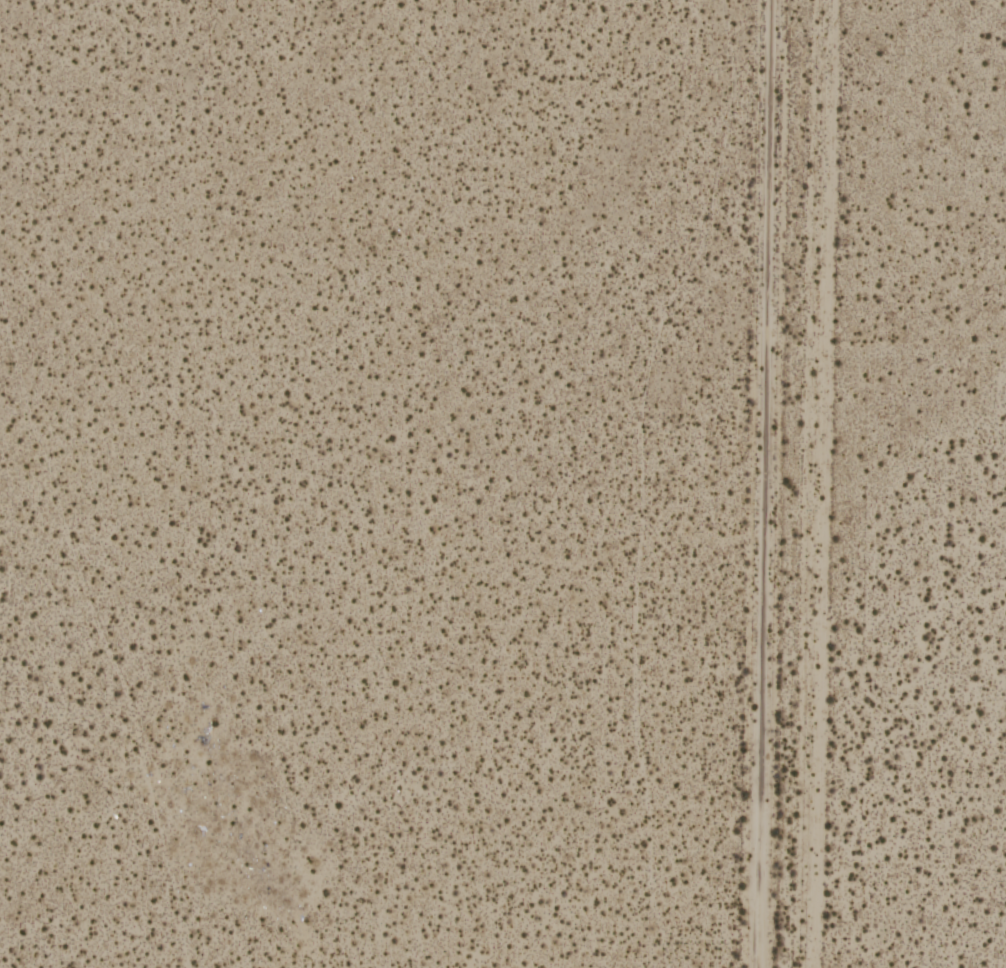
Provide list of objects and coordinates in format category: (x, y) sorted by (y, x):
road: (767, 484)
airport: (935, 488)

